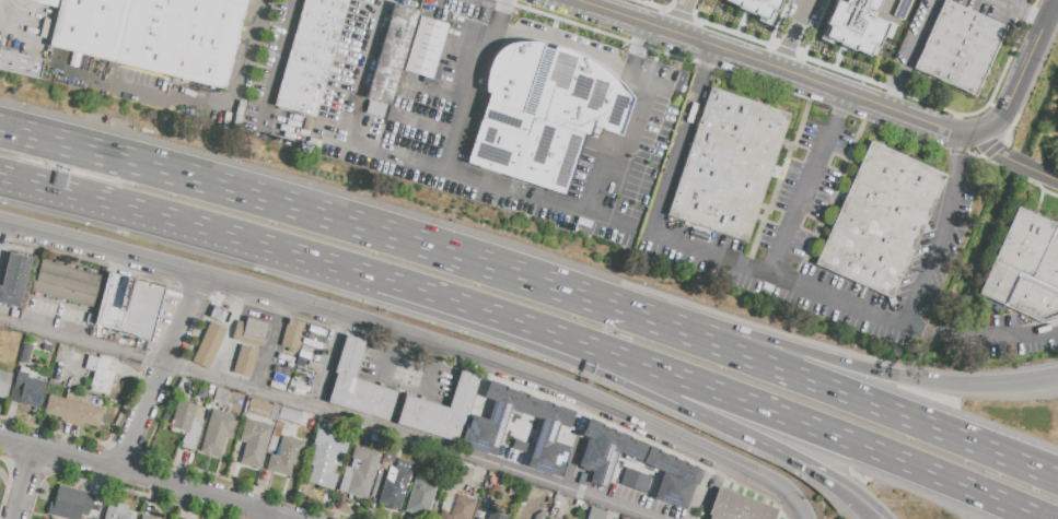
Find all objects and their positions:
building: (46, 2)
building: (235, 2)
road: (893, 4)
road: (1012, 5)
building: (758, 7)
road: (8, 10)
parking lot: (1002, 11)
road: (679, 16)
road: (1036, 16)
road: (616, 17)
building: (89, 26)
building: (860, 28)
road: (922, 30)
parking lot: (921, 33)
road: (791, 35)
building: (181, 38)
road: (468, 40)
road: (639, 40)
building: (945, 42)
building: (426, 48)
road: (280, 51)
building: (393, 55)
building: (311, 56)
building: (976, 56)
building: (21, 64)
road: (1025, 69)
road: (810, 82)
road: (897, 83)
road: (651, 87)
road: (224, 106)
road: (839, 110)
road: (353, 119)
building: (566, 126)
road: (965, 133)
road: (957, 154)
road: (1014, 161)
building: (728, 164)
road: (1019, 177)
road: (478, 179)
road: (802, 202)
road: (287, 208)
road: (136, 209)
building: (880, 220)
road: (325, 266)
building: (1026, 268)
road: (759, 274)
building: (14, 280)
building: (66, 283)
building: (129, 307)
building: (218, 314)
road: (930, 331)
building: (251, 332)
building: (291, 335)
road: (1009, 337)
road: (531, 342)
parking lot: (1048, 342)
road: (760, 344)
building: (208, 345)
road: (415, 346)
building: (25, 353)
building: (245, 361)
road: (325, 365)
road: (662, 370)
building: (101, 374)
road: (167, 377)
building: (4, 384)
road: (815, 384)
building: (358, 385)
road: (1005, 386)
road: (400, 387)
building: (26, 390)
street lamp: (614, 396)
building: (221, 397)
building: (73, 410)
building: (440, 411)
road: (327, 412)
building: (275, 416)
building: (187, 424)
building: (218, 433)
road: (740, 434)
building: (483, 436)
building: (375, 438)
building: (254, 443)
street lamp: (736, 450)
building: (607, 451)
building: (388, 452)
building: (286, 457)
building: (326, 458)
building: (383, 464)
building: (359, 472)
building: (479, 475)
road: (138, 476)
building: (673, 477)
building: (633, 480)
road: (24, 483)
road: (839, 486)
road: (710, 487)
building: (394, 488)
building: (420, 498)
building: (70, 504)
building: (455, 507)
building: (739, 508)
building: (118, 512)
building: (595, 514)
street lamp: (835, 515)
building: (496, 516)
building: (540, 516)
building: (144, 517)
road: (806, 517)
road: (877, 517)
building: (478, 518)
building: (547, 518)

